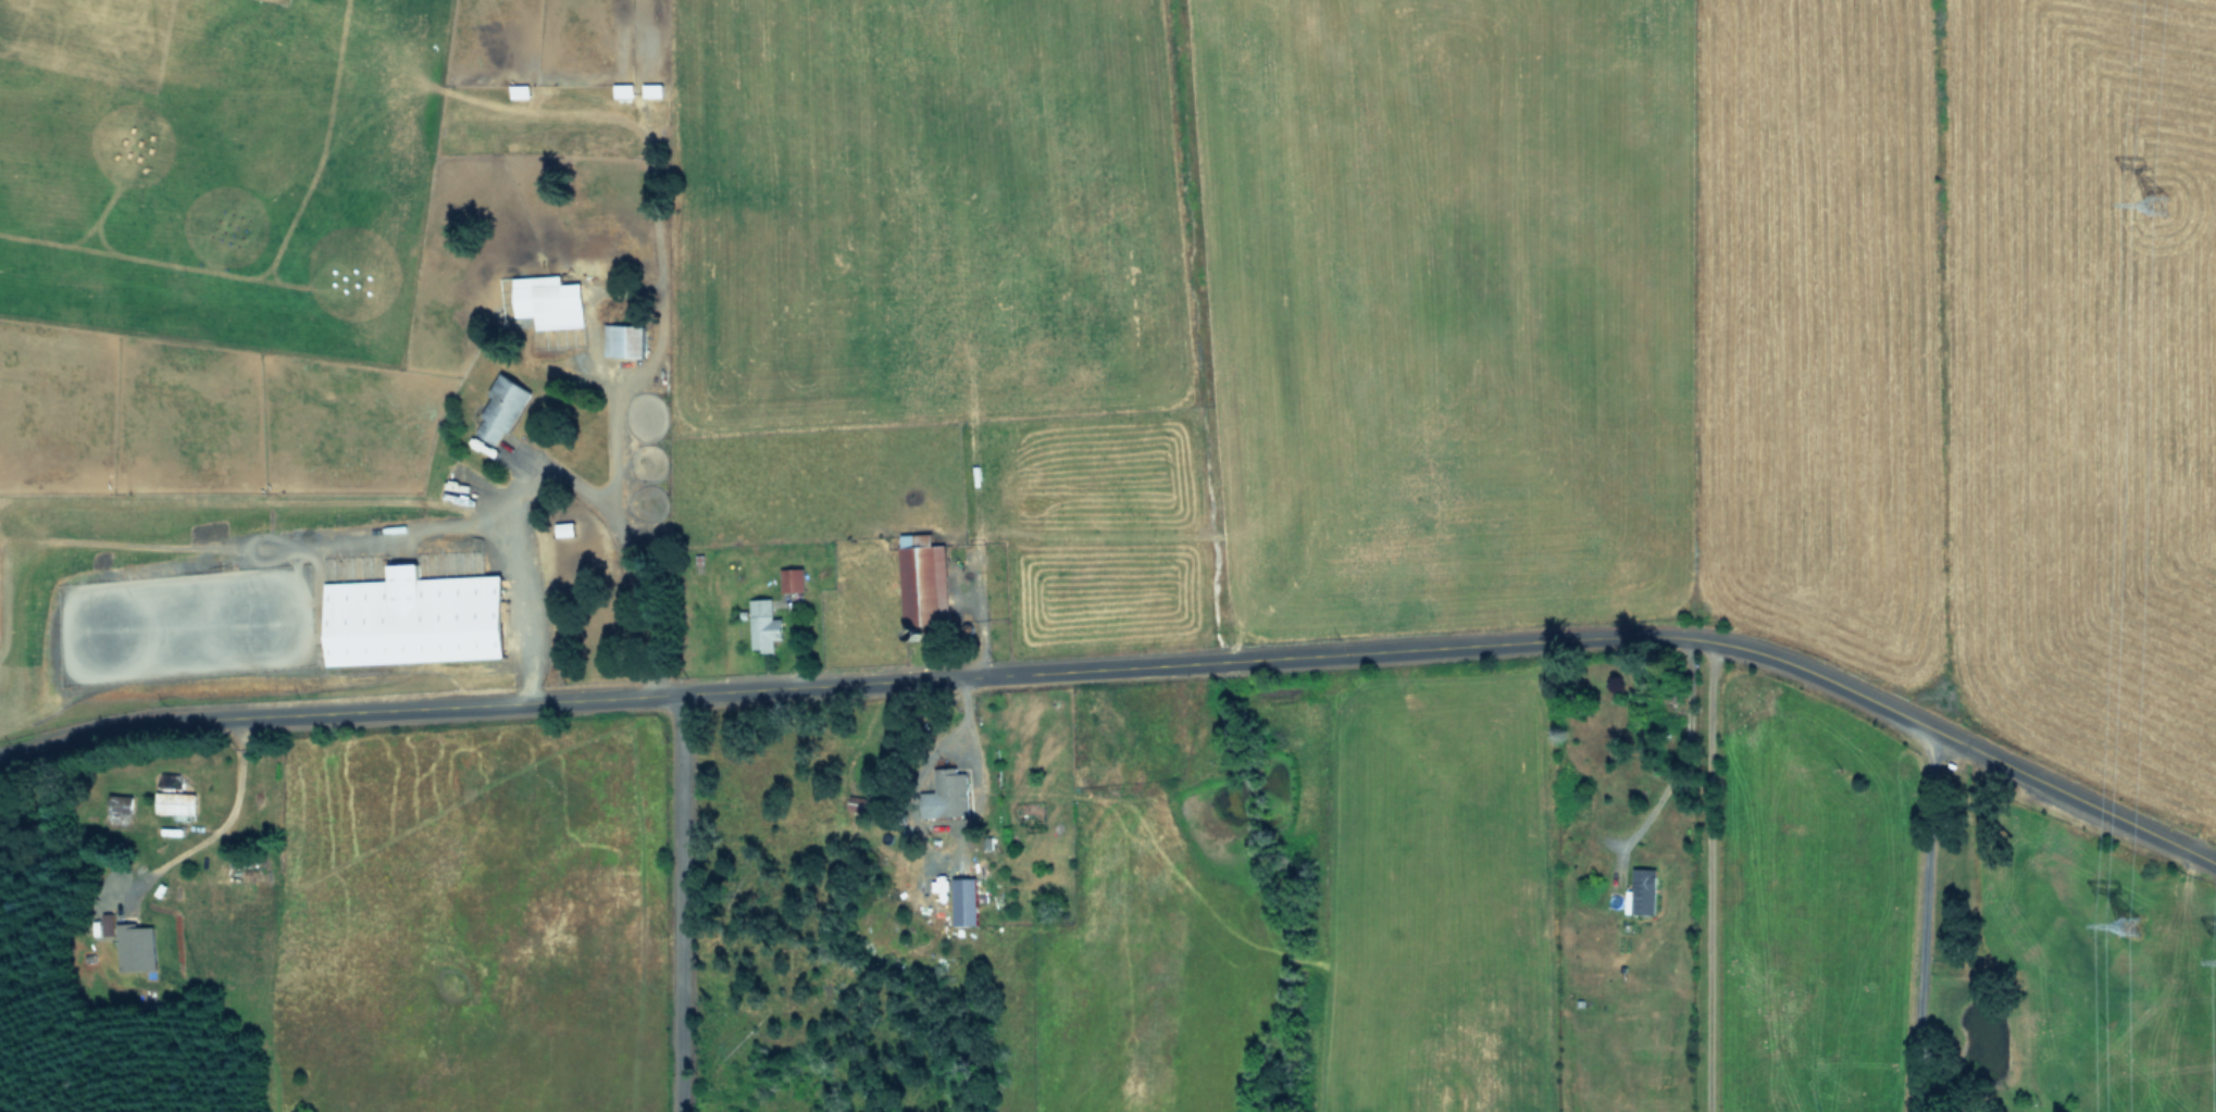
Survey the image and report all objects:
building: (622, 89)
building: (650, 89)
power tower: (2163, 220)
building: (548, 300)
building: (622, 338)
building: (499, 409)
crop: (1153, 526)
building: (563, 527)
road: (622, 536)
road: (339, 542)
building: (790, 578)
building: (921, 578)
building: (412, 616)
building: (762, 624)
road: (1132, 664)
road: (1681, 754)
building: (947, 798)
building: (174, 801)
road: (1709, 876)
building: (963, 900)
road: (668, 903)
road: (1919, 915)
power tower: (2137, 942)
building: (134, 946)

